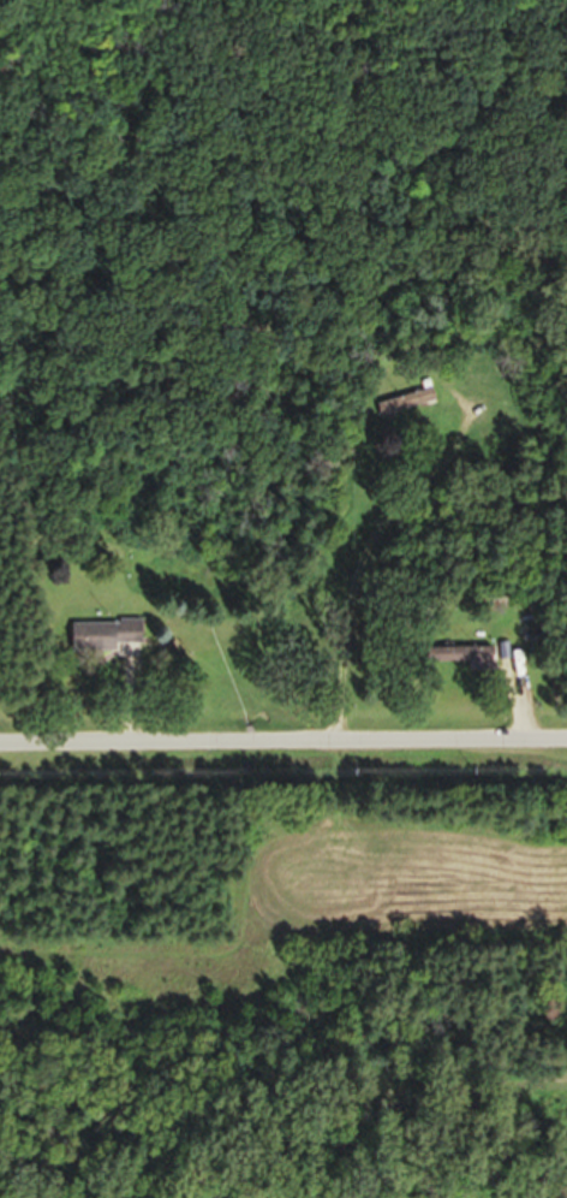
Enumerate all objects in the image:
building: (401, 404)
building: (105, 639)
building: (512, 660)
building: (477, 663)
road: (283, 742)

